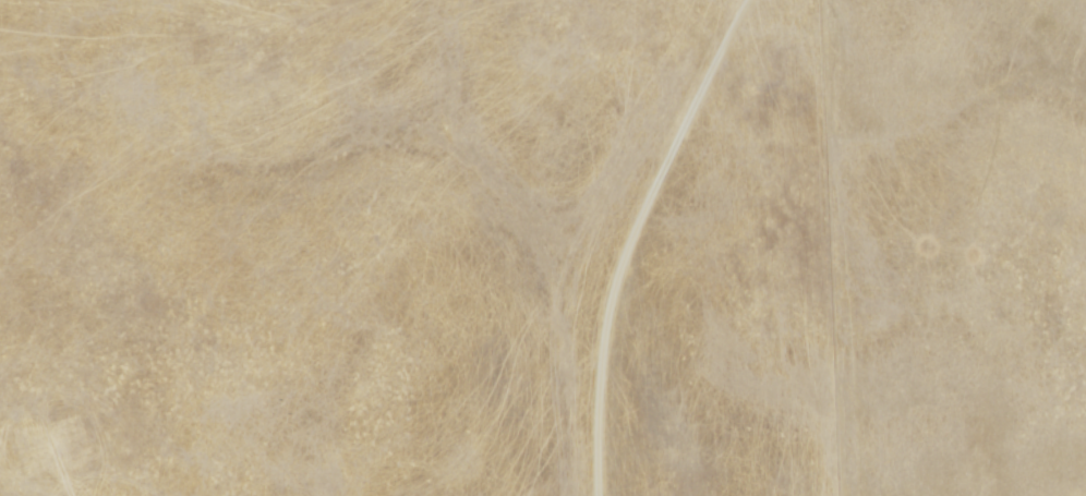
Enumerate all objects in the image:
road: (630, 235)

